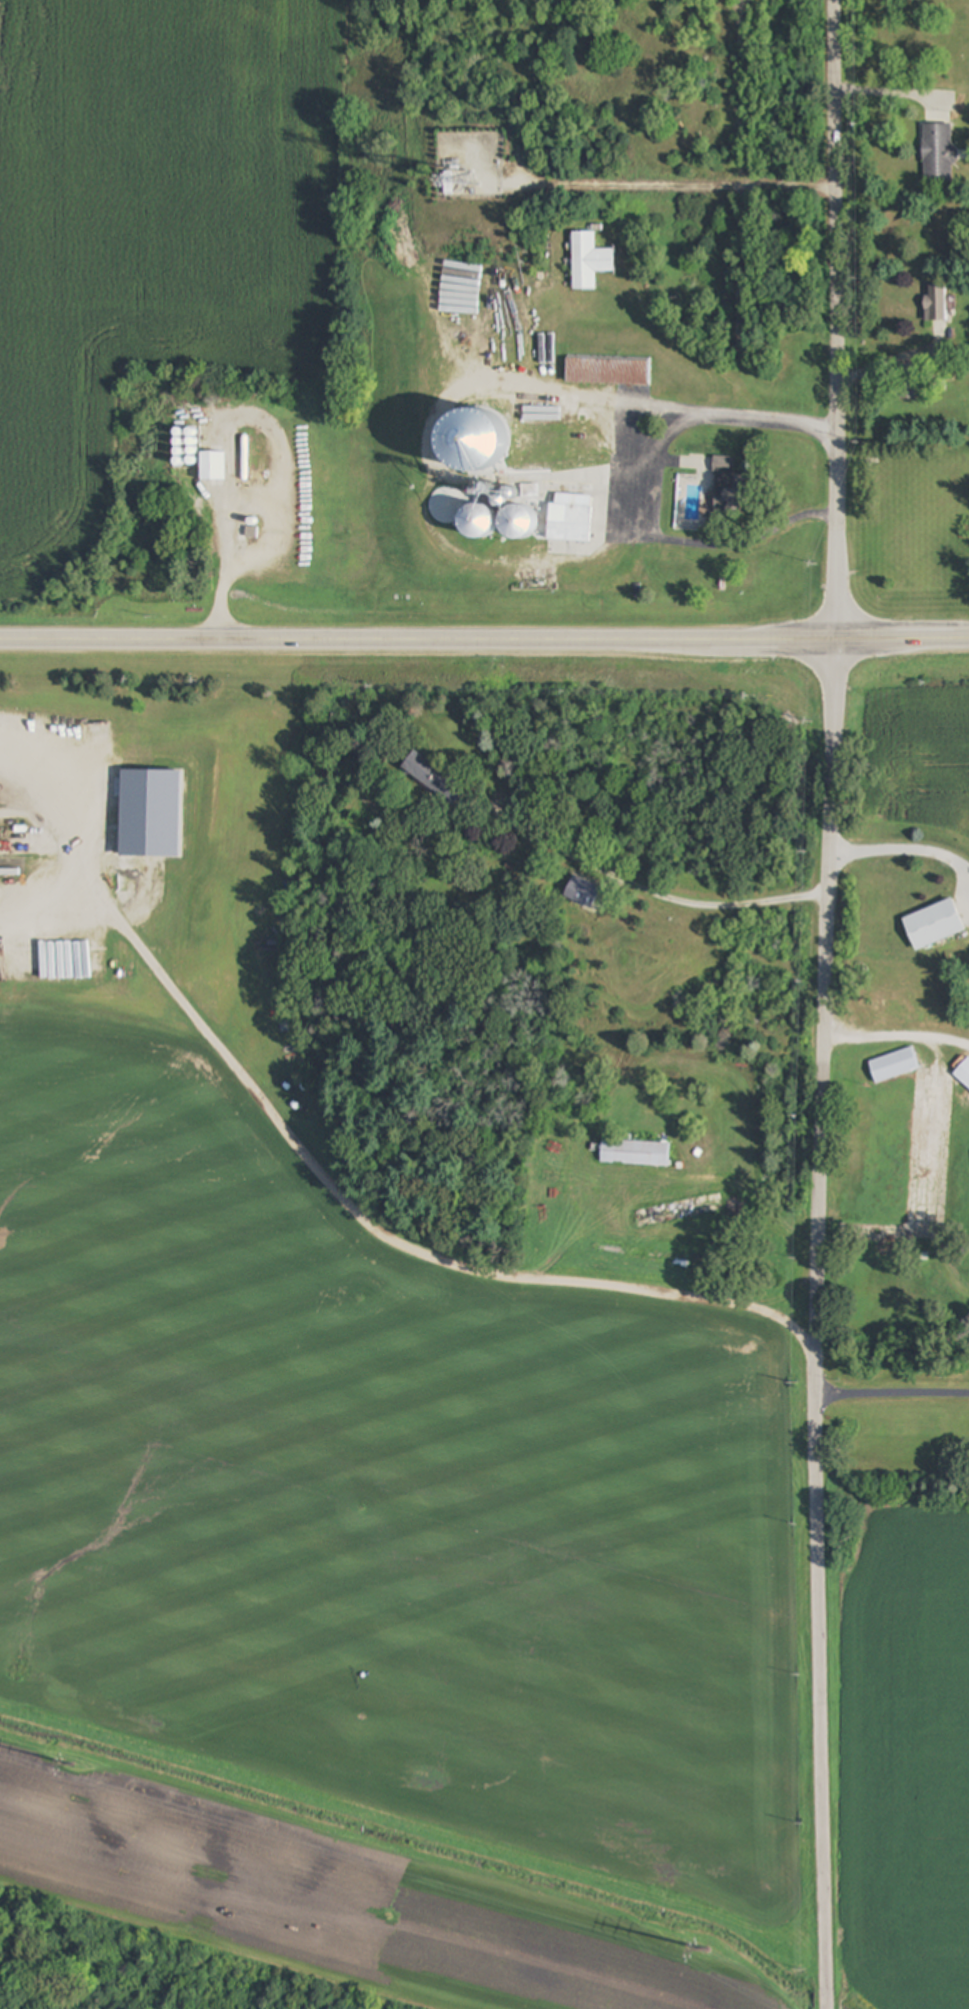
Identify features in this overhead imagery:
building: (938, 153)
road: (698, 181)
building: (449, 183)
building: (588, 261)
building: (936, 304)
road: (835, 321)
road: (888, 358)
building: (591, 370)
road: (225, 423)
building: (574, 454)
building: (478, 456)
building: (246, 457)
building: (514, 457)
building: (544, 457)
building: (213, 467)
building: (729, 488)
building: (530, 491)
road: (641, 491)
building: (570, 518)
building: (479, 522)
building: (519, 523)
road: (484, 640)
building: (432, 777)
road: (902, 847)
road: (46, 887)
road: (647, 891)
building: (935, 926)
road: (896, 1037)
building: (893, 1066)
building: (964, 1075)
building: (635, 1153)
road: (313, 1166)
road: (815, 1325)
road: (891, 1394)
power tower: (78, 1768)
power tower: (705, 1949)

